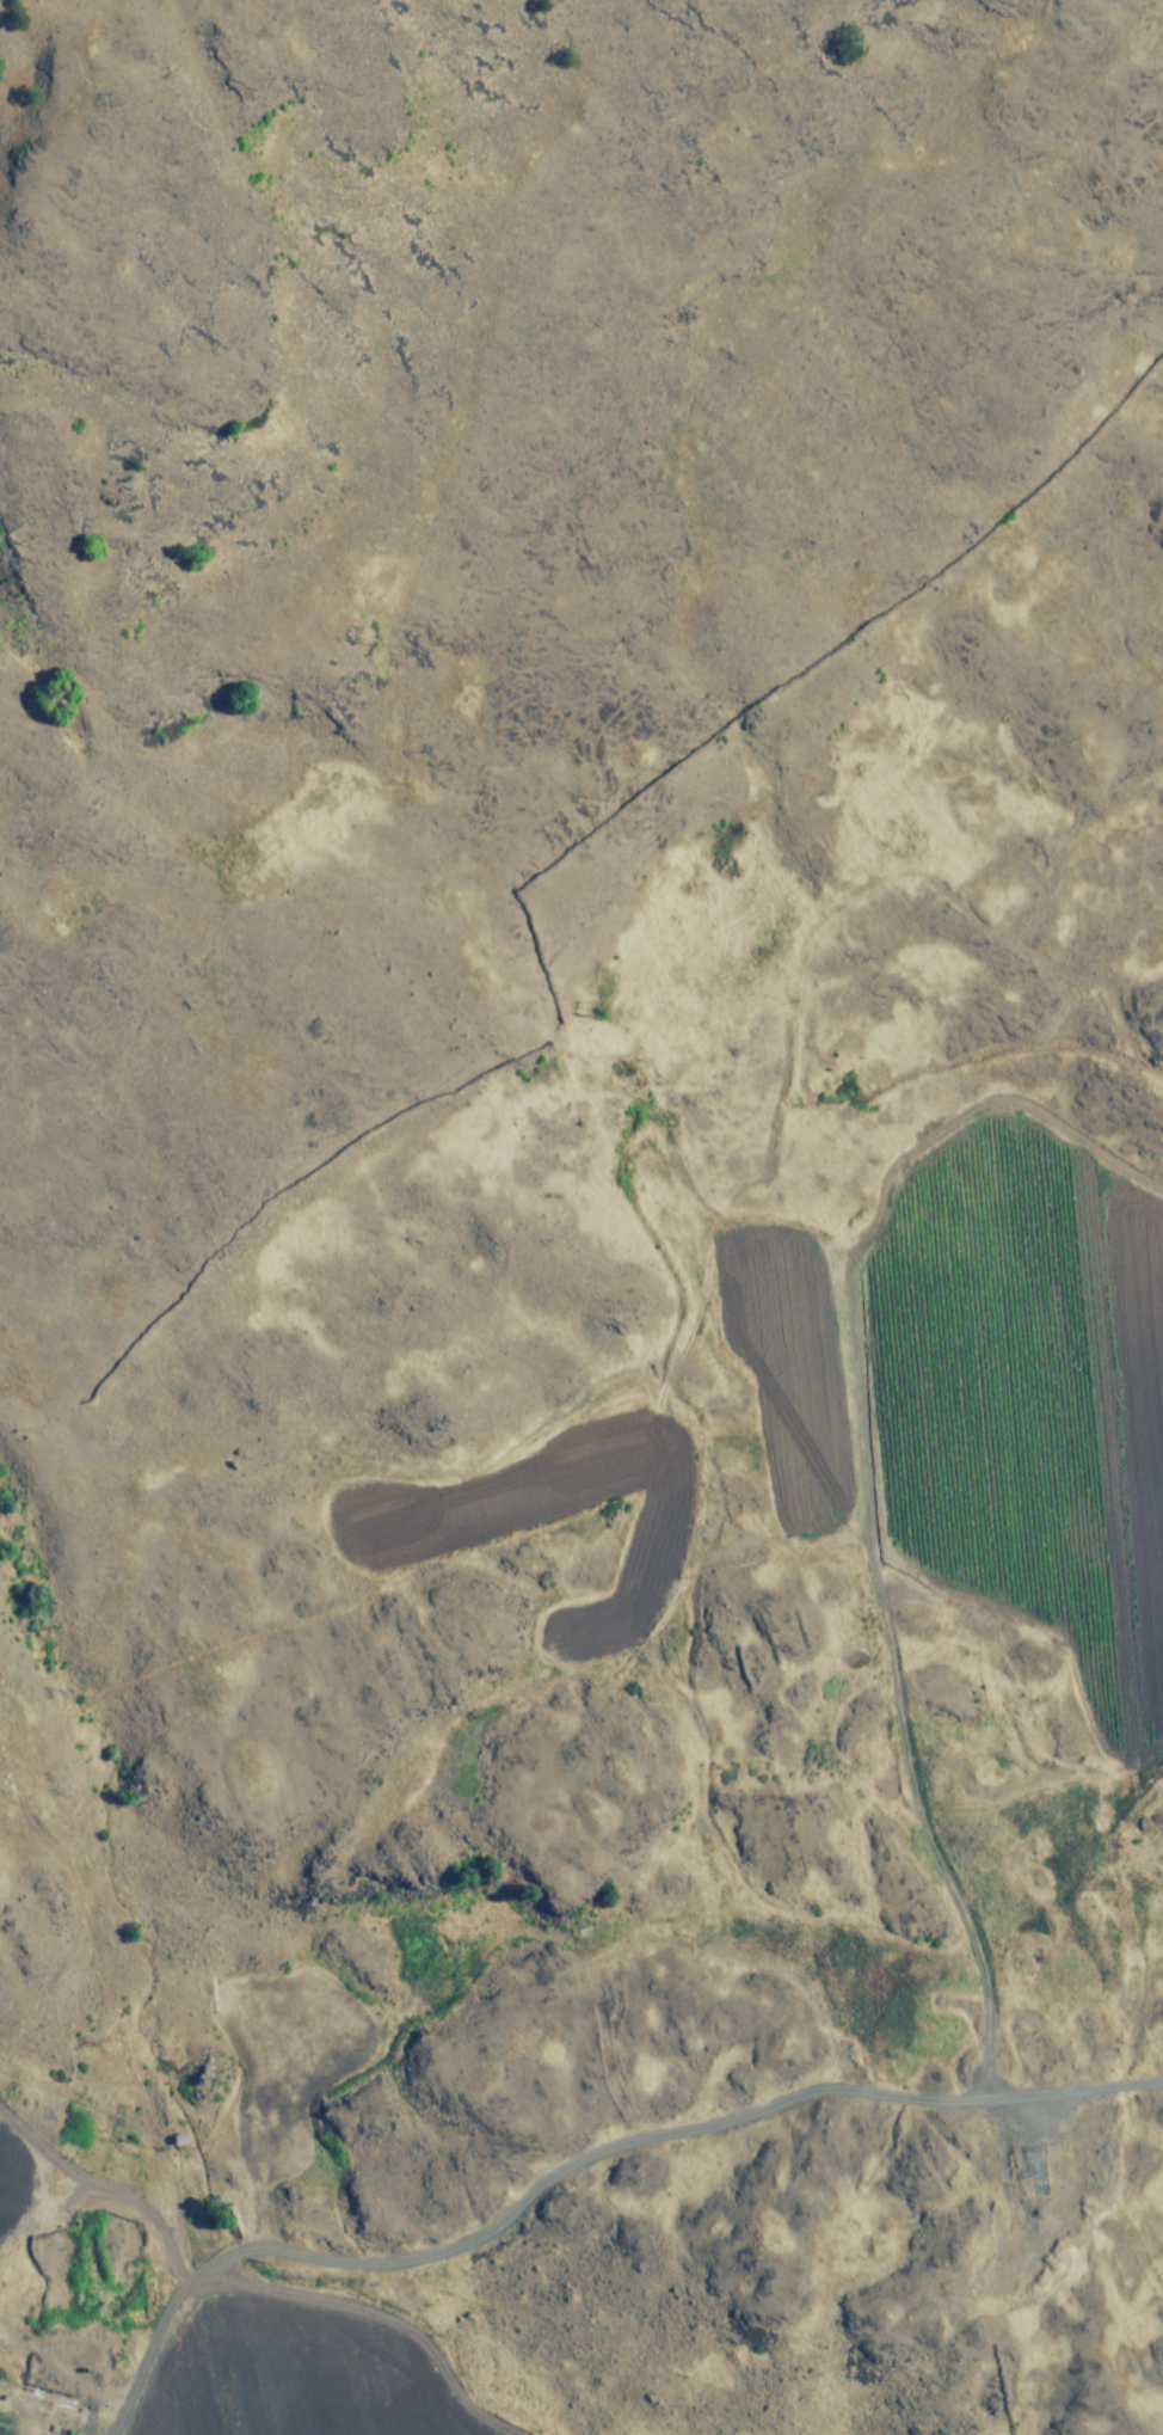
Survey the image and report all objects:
road: (574, 2163)

